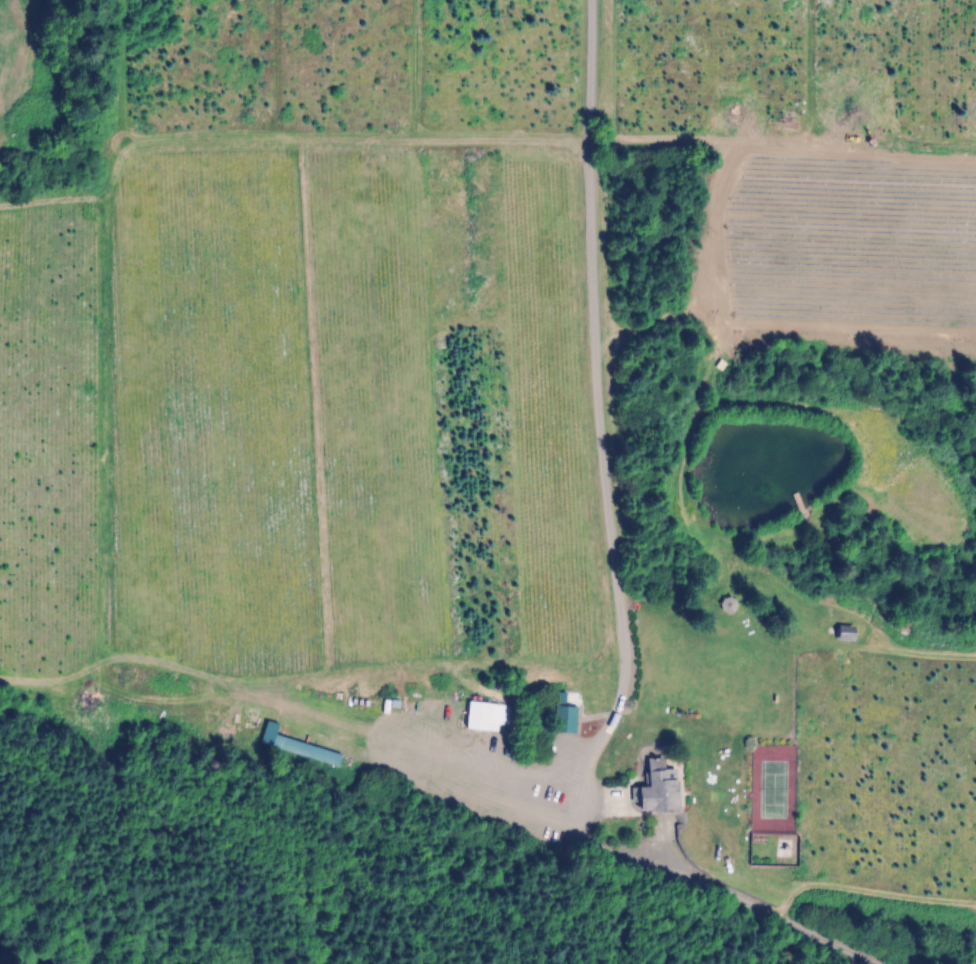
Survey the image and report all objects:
building: (359, 232)
building: (517, 244)
building: (553, 284)
building: (336, 386)
road: (593, 424)
building: (726, 606)
building: (480, 718)
building: (562, 729)
building: (655, 792)

